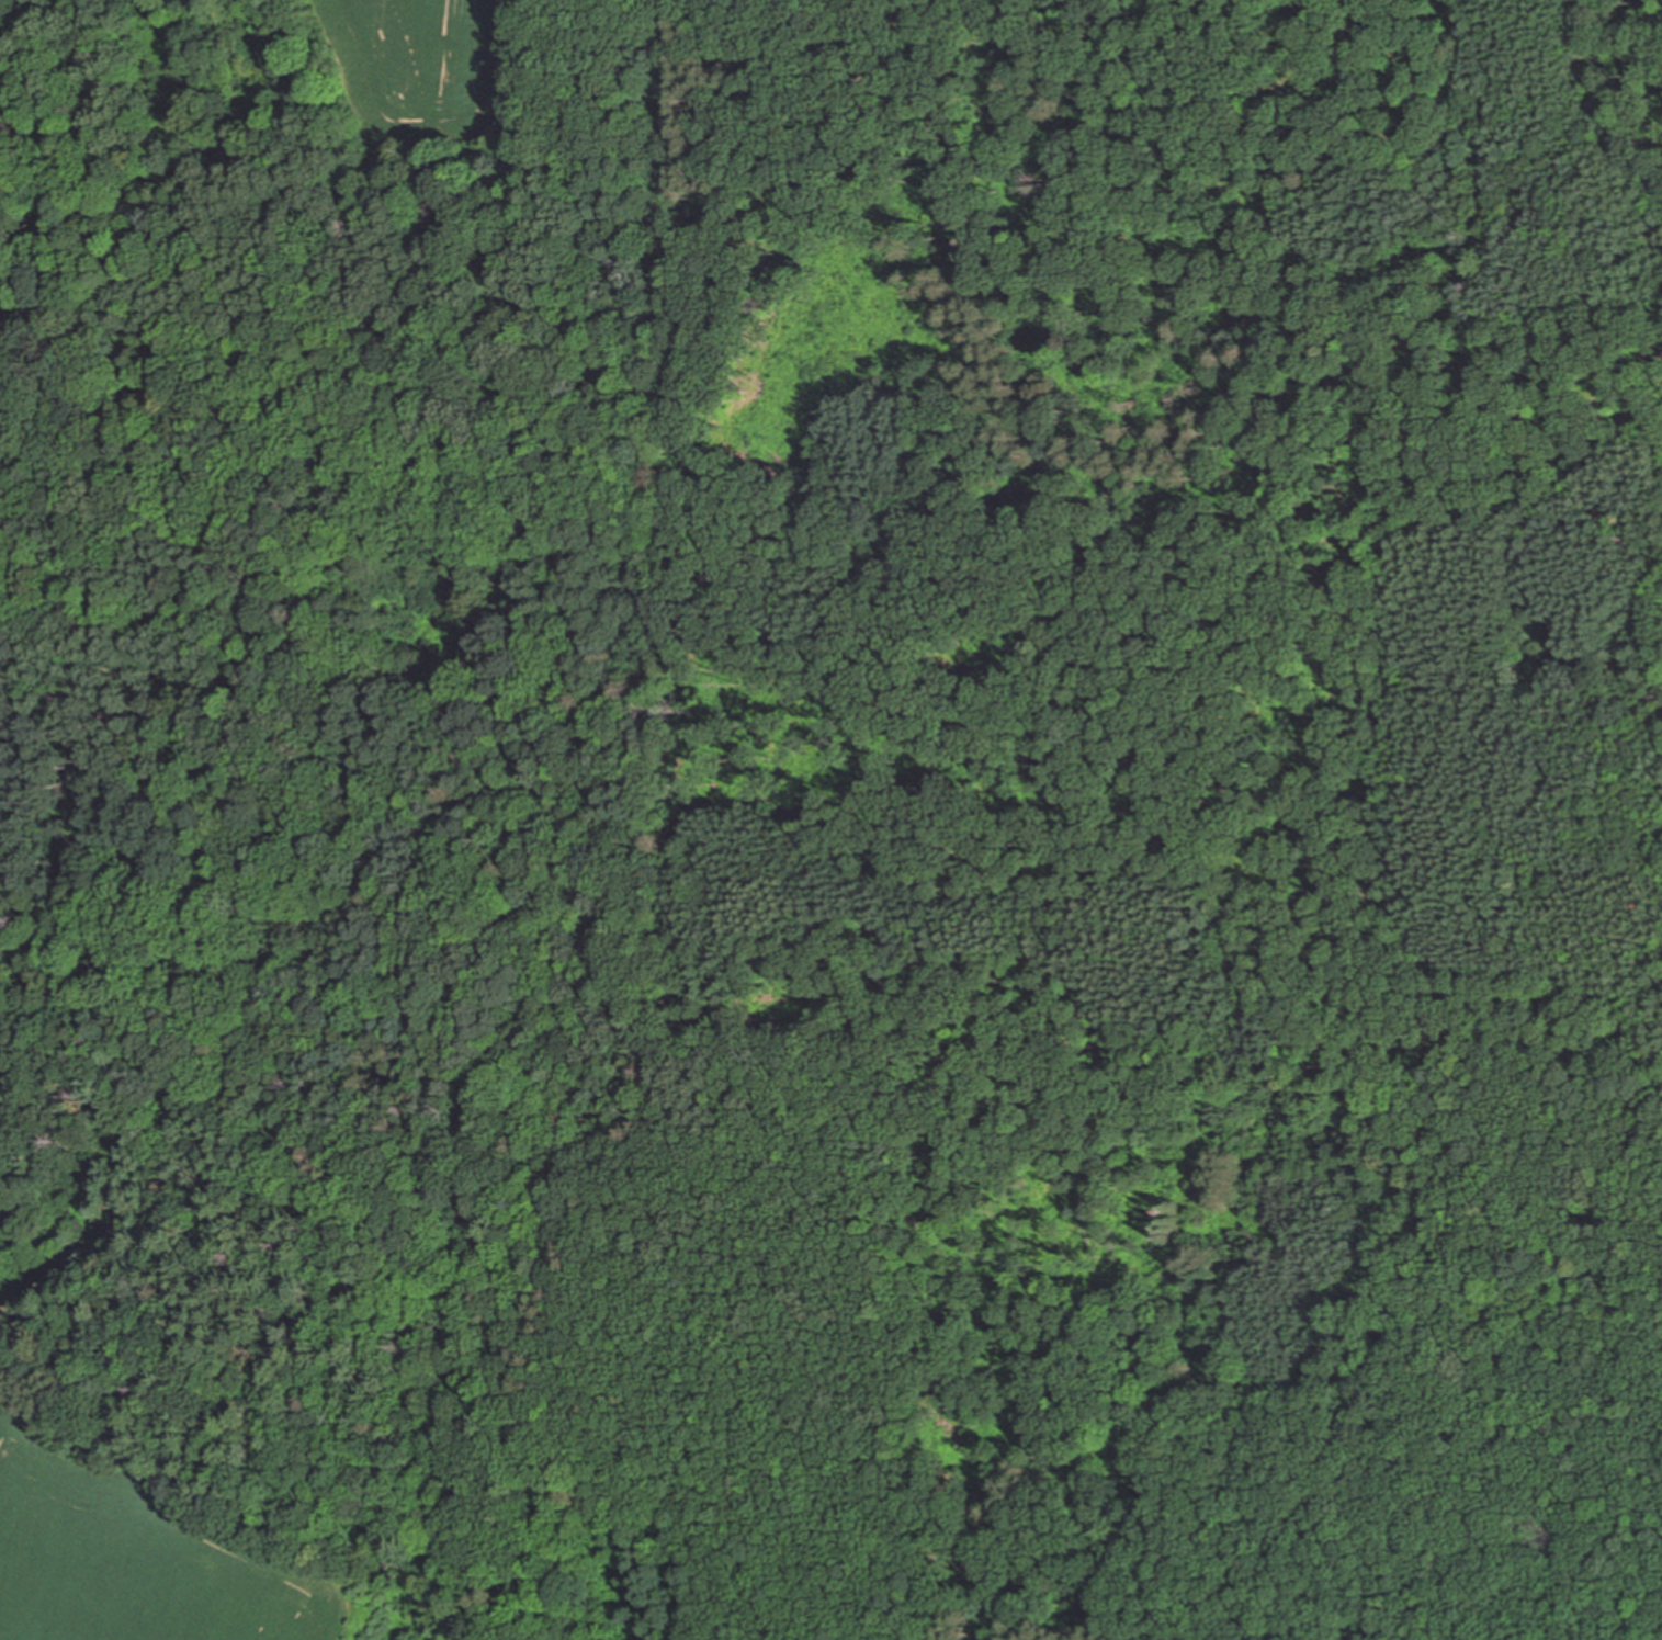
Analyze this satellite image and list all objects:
crop: (444, 60)

